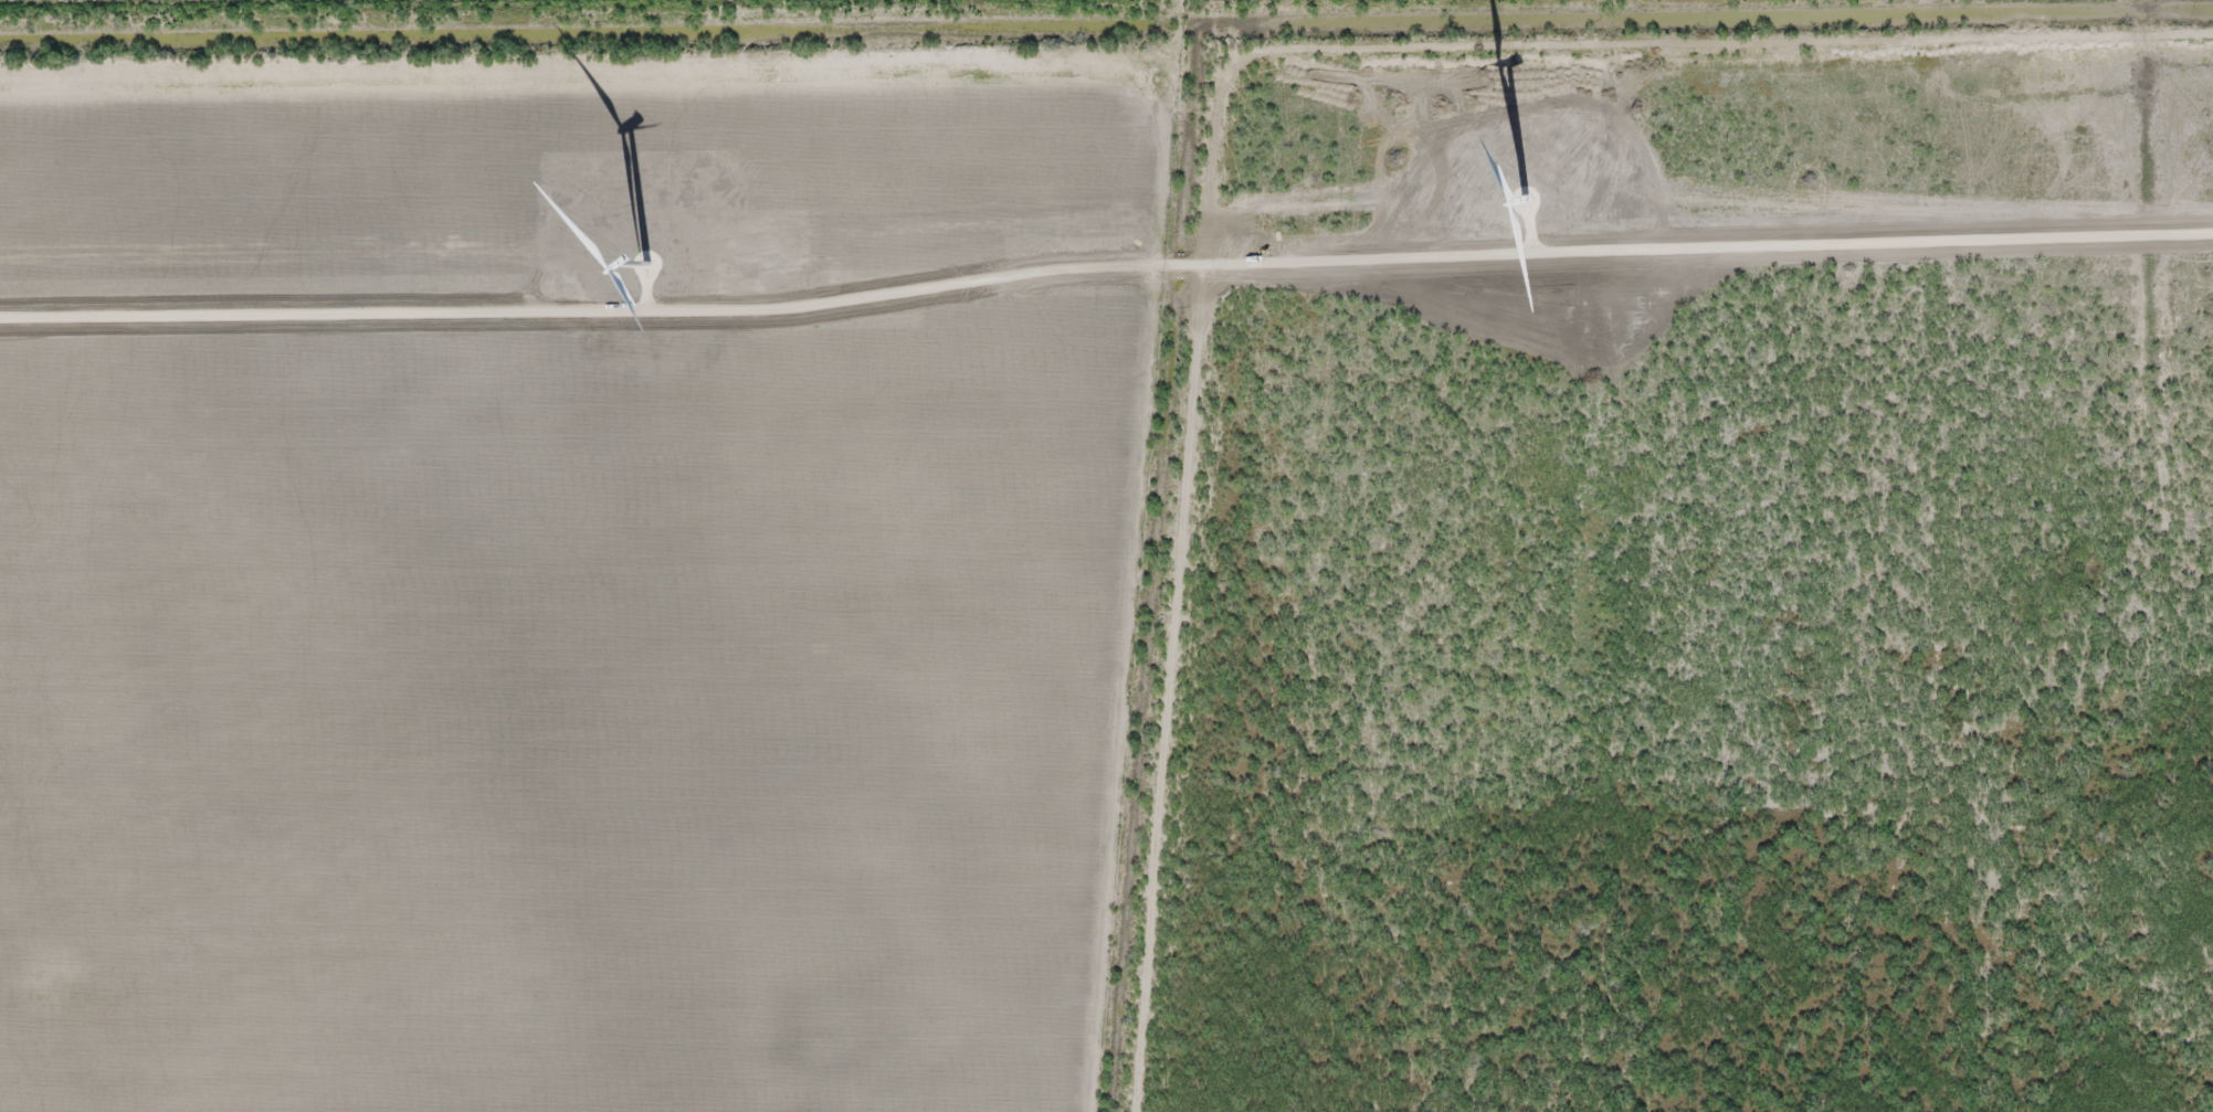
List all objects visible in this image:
wind turbine: (1527, 201)
wind turbine: (647, 265)

